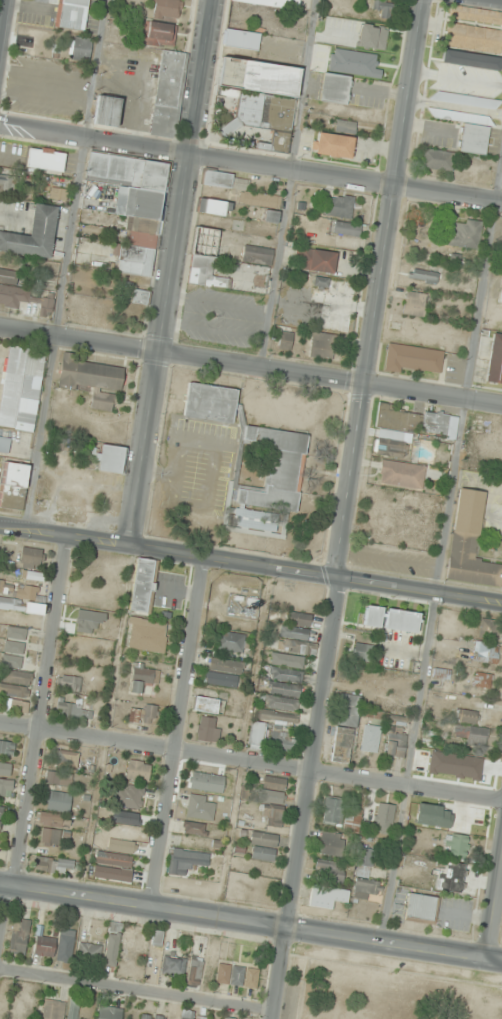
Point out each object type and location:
building: (273, 3)
road: (0, 4)
building: (166, 9)
building: (382, 9)
building: (72, 14)
building: (476, 15)
building: (156, 33)
building: (373, 37)
building: (473, 38)
building: (241, 39)
building: (81, 49)
building: (467, 58)
building: (335, 88)
building: (168, 94)
building: (467, 100)
building: (107, 112)
building: (346, 126)
building: (468, 130)
building: (333, 145)
building: (46, 160)
building: (437, 160)
road: (250, 163)
building: (217, 179)
road: (287, 182)
building: (262, 204)
building: (133, 206)
building: (336, 206)
building: (213, 207)
building: (346, 229)
building: (33, 234)
building: (464, 235)
building: (257, 255)
building: (316, 260)
road: (63, 265)
building: (203, 272)
road: (168, 273)
building: (424, 275)
road: (376, 288)
building: (22, 295)
building: (501, 300)
road: (216, 301)
building: (414, 304)
parking lot: (221, 316)
building: (99, 318)
road: (212, 329)
building: (285, 340)
building: (322, 345)
building: (413, 358)
building: (495, 359)
road: (251, 363)
building: (88, 374)
building: (19, 386)
building: (103, 402)
building: (210, 402)
building: (416, 421)
building: (4, 444)
building: (392, 447)
building: (111, 459)
building: (401, 474)
building: (269, 480)
building: (13, 484)
building: (198, 524)
road: (63, 538)
building: (469, 543)
road: (440, 548)
building: (32, 557)
road: (314, 574)
building: (31, 576)
traffic signals: (343, 579)
building: (143, 586)
building: (20, 591)
building: (21, 606)
building: (372, 616)
building: (401, 620)
building: (296, 627)
building: (488, 627)
building: (147, 635)
building: (15, 640)
building: (230, 641)
building: (361, 652)
building: (298, 653)
building: (485, 653)
building: (13, 661)
building: (226, 665)
building: (440, 673)
building: (285, 675)
building: (143, 677)
building: (225, 680)
building: (482, 680)
building: (17, 683)
building: (69, 683)
building: (284, 689)
building: (281, 703)
building: (206, 705)
building: (73, 711)
building: (144, 714)
building: (466, 716)
building: (344, 728)
building: (208, 729)
road: (178, 732)
building: (473, 734)
building: (257, 735)
building: (370, 738)
building: (395, 740)
building: (281, 741)
road: (34, 746)
building: (7, 747)
road: (315, 753)
building: (67, 759)
road: (251, 760)
building: (5, 767)
building: (139, 771)
building: (58, 778)
building: (207, 782)
building: (6, 788)
building: (273, 790)
building: (130, 797)
building: (59, 801)
building: (200, 807)
building: (341, 814)
building: (0, 815)
building: (273, 816)
building: (54, 820)
building: (385, 824)
building: (194, 828)
building: (50, 836)
building: (331, 844)
building: (456, 845)
building: (263, 846)
building: (114, 860)
building: (187, 861)
building: (54, 864)
building: (331, 870)
building: (365, 876)
building: (451, 878)
building: (326, 896)
road: (144, 906)
building: (421, 908)
road: (495, 914)
building: (20, 936)
road: (395, 944)
building: (65, 945)
building: (45, 946)
building: (90, 952)
building: (110, 955)
building: (173, 966)
building: (195, 972)
road: (281, 973)
building: (237, 975)
road: (138, 991)
building: (109, 1013)
building: (189, 1015)
building: (147, 1017)
building: (230, 1018)

